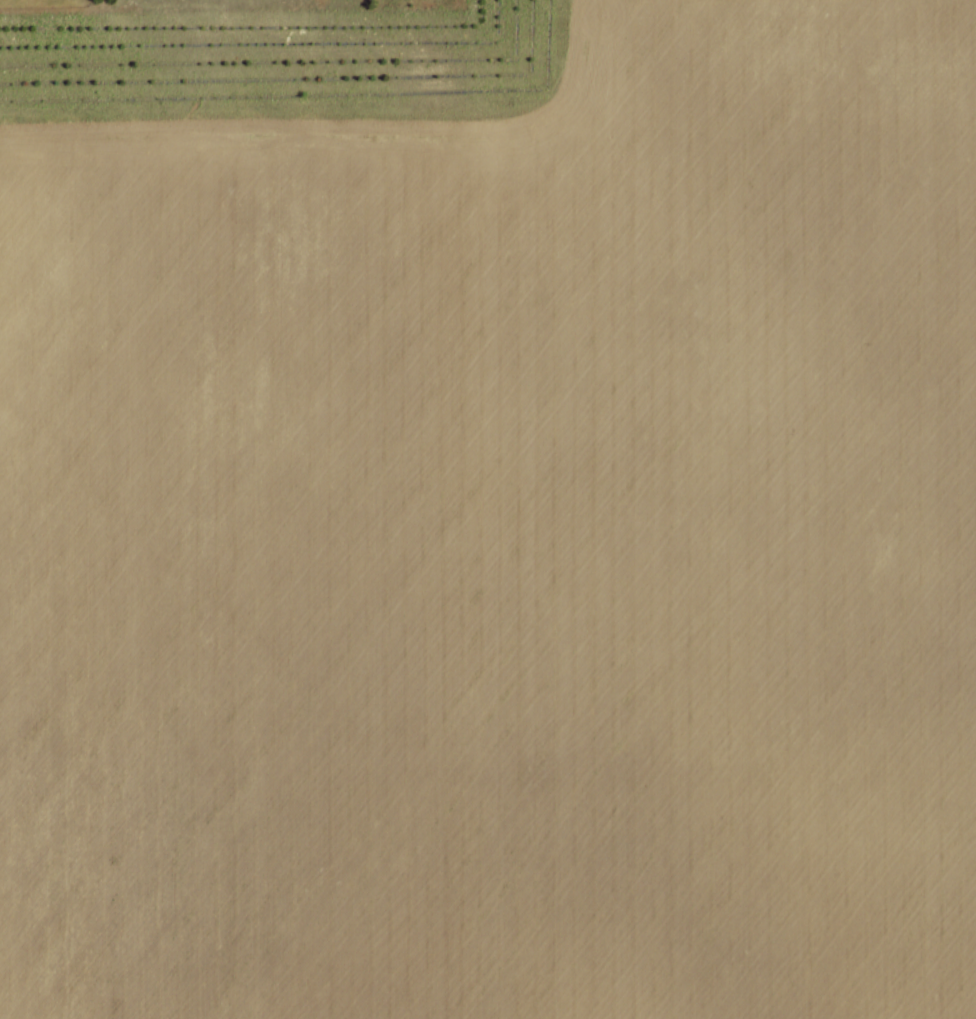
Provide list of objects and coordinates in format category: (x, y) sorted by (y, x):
crop: (500, 537)

